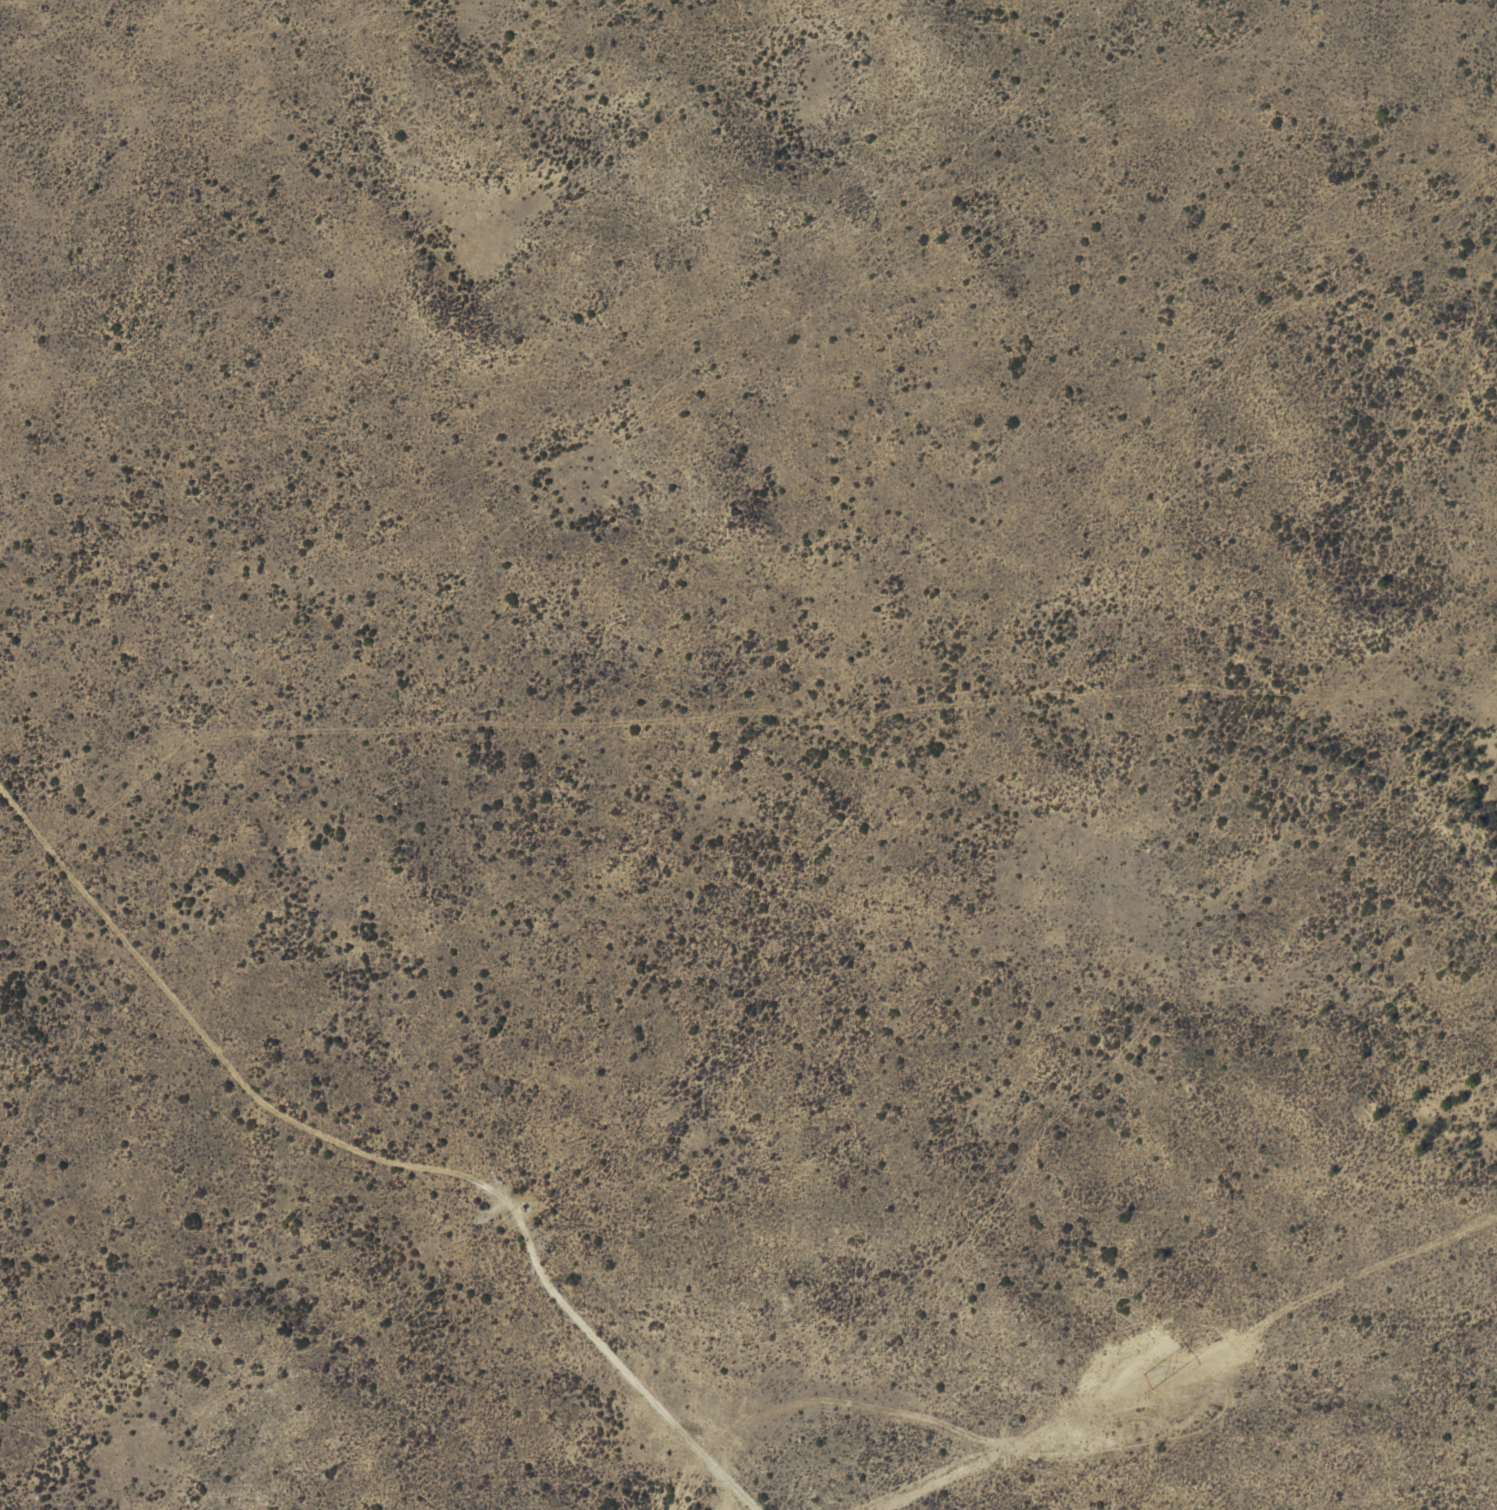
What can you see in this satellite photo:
power tower: (1157, 1372)

